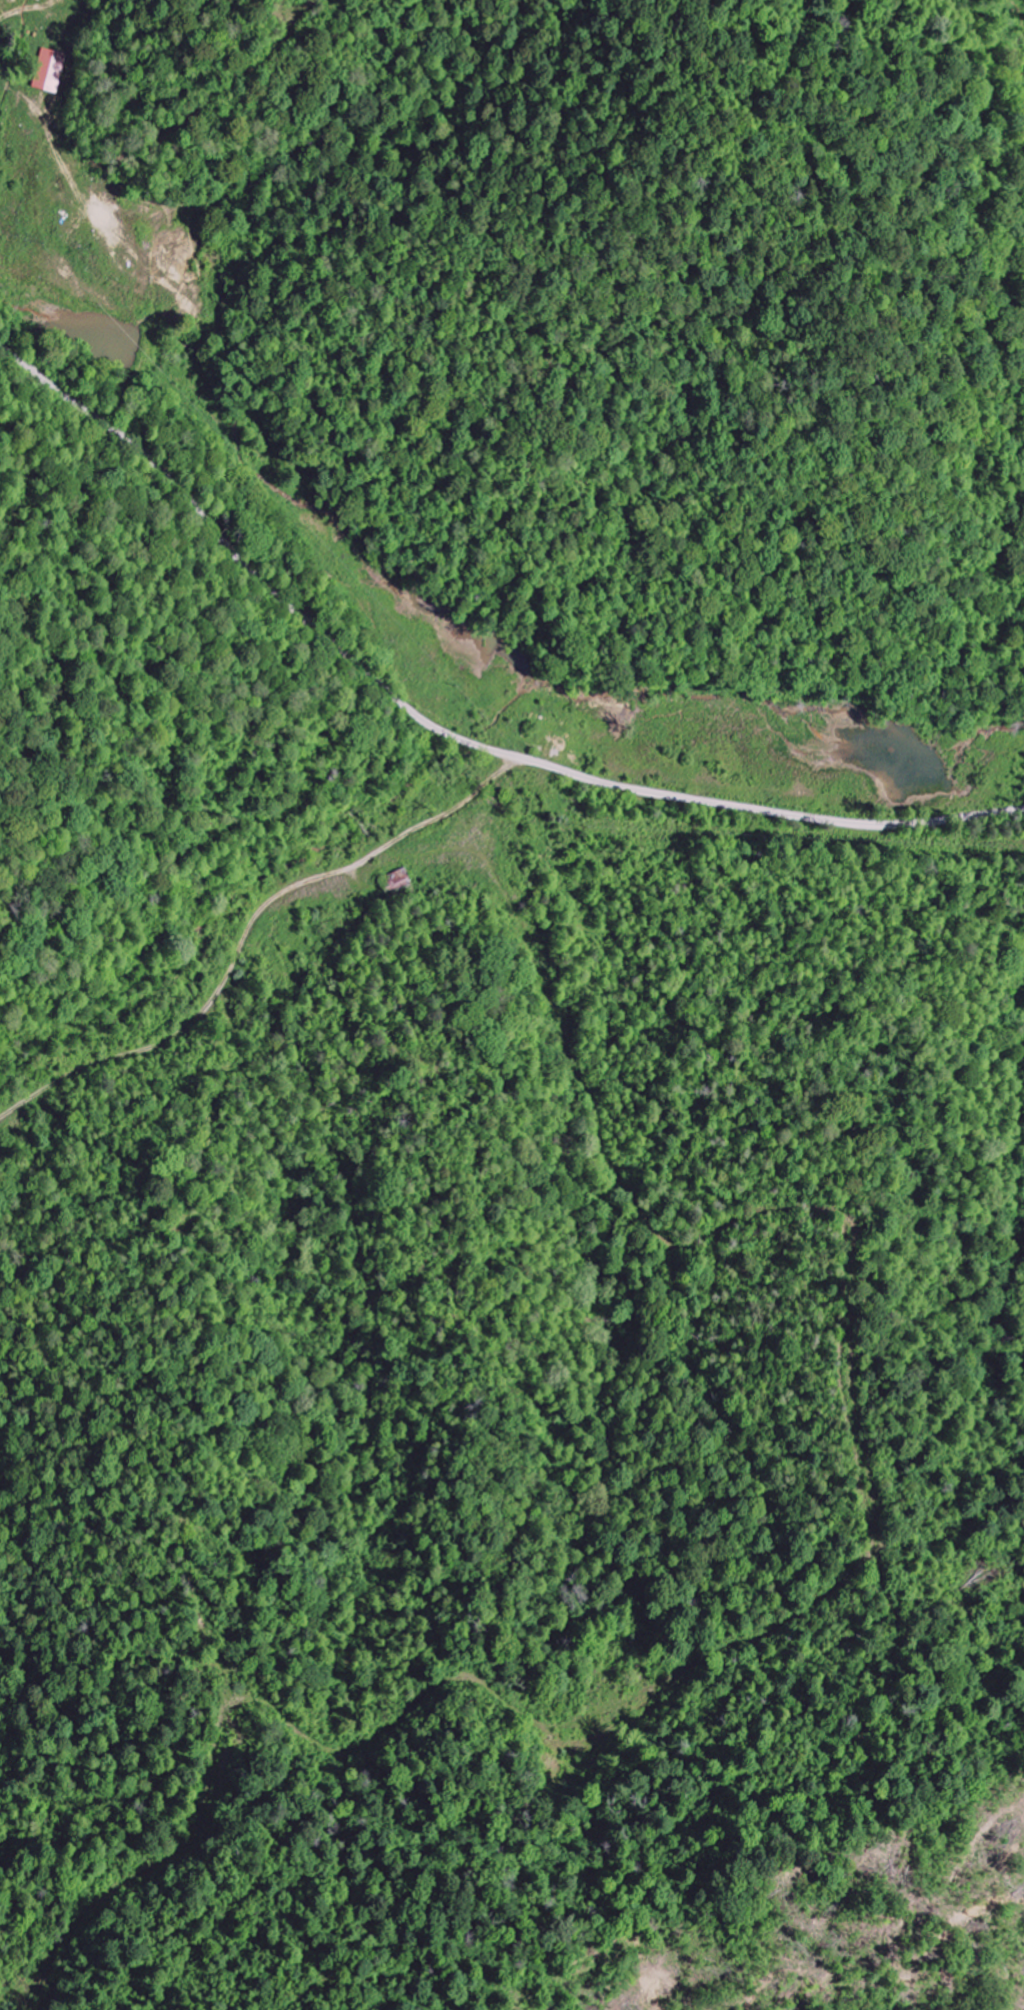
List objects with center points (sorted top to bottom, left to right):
building: (50, 71)
road: (443, 730)
road: (274, 949)

